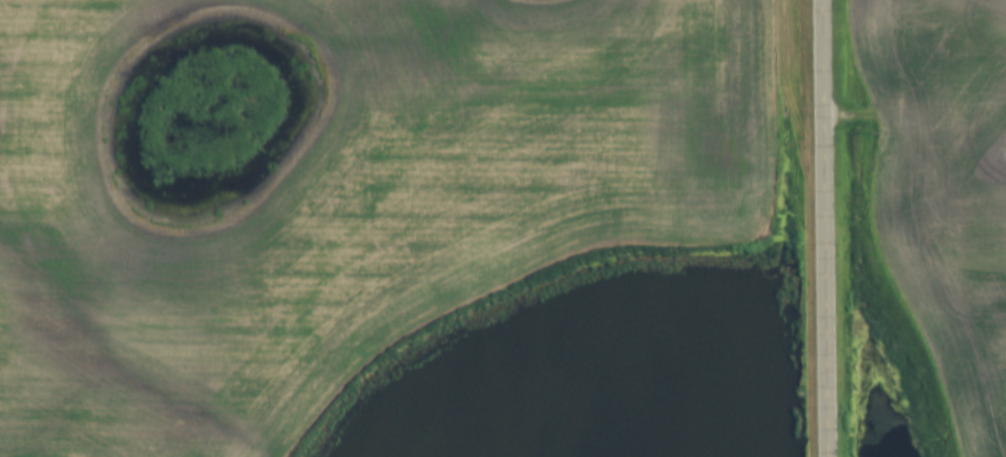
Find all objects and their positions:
road: (829, 228)

